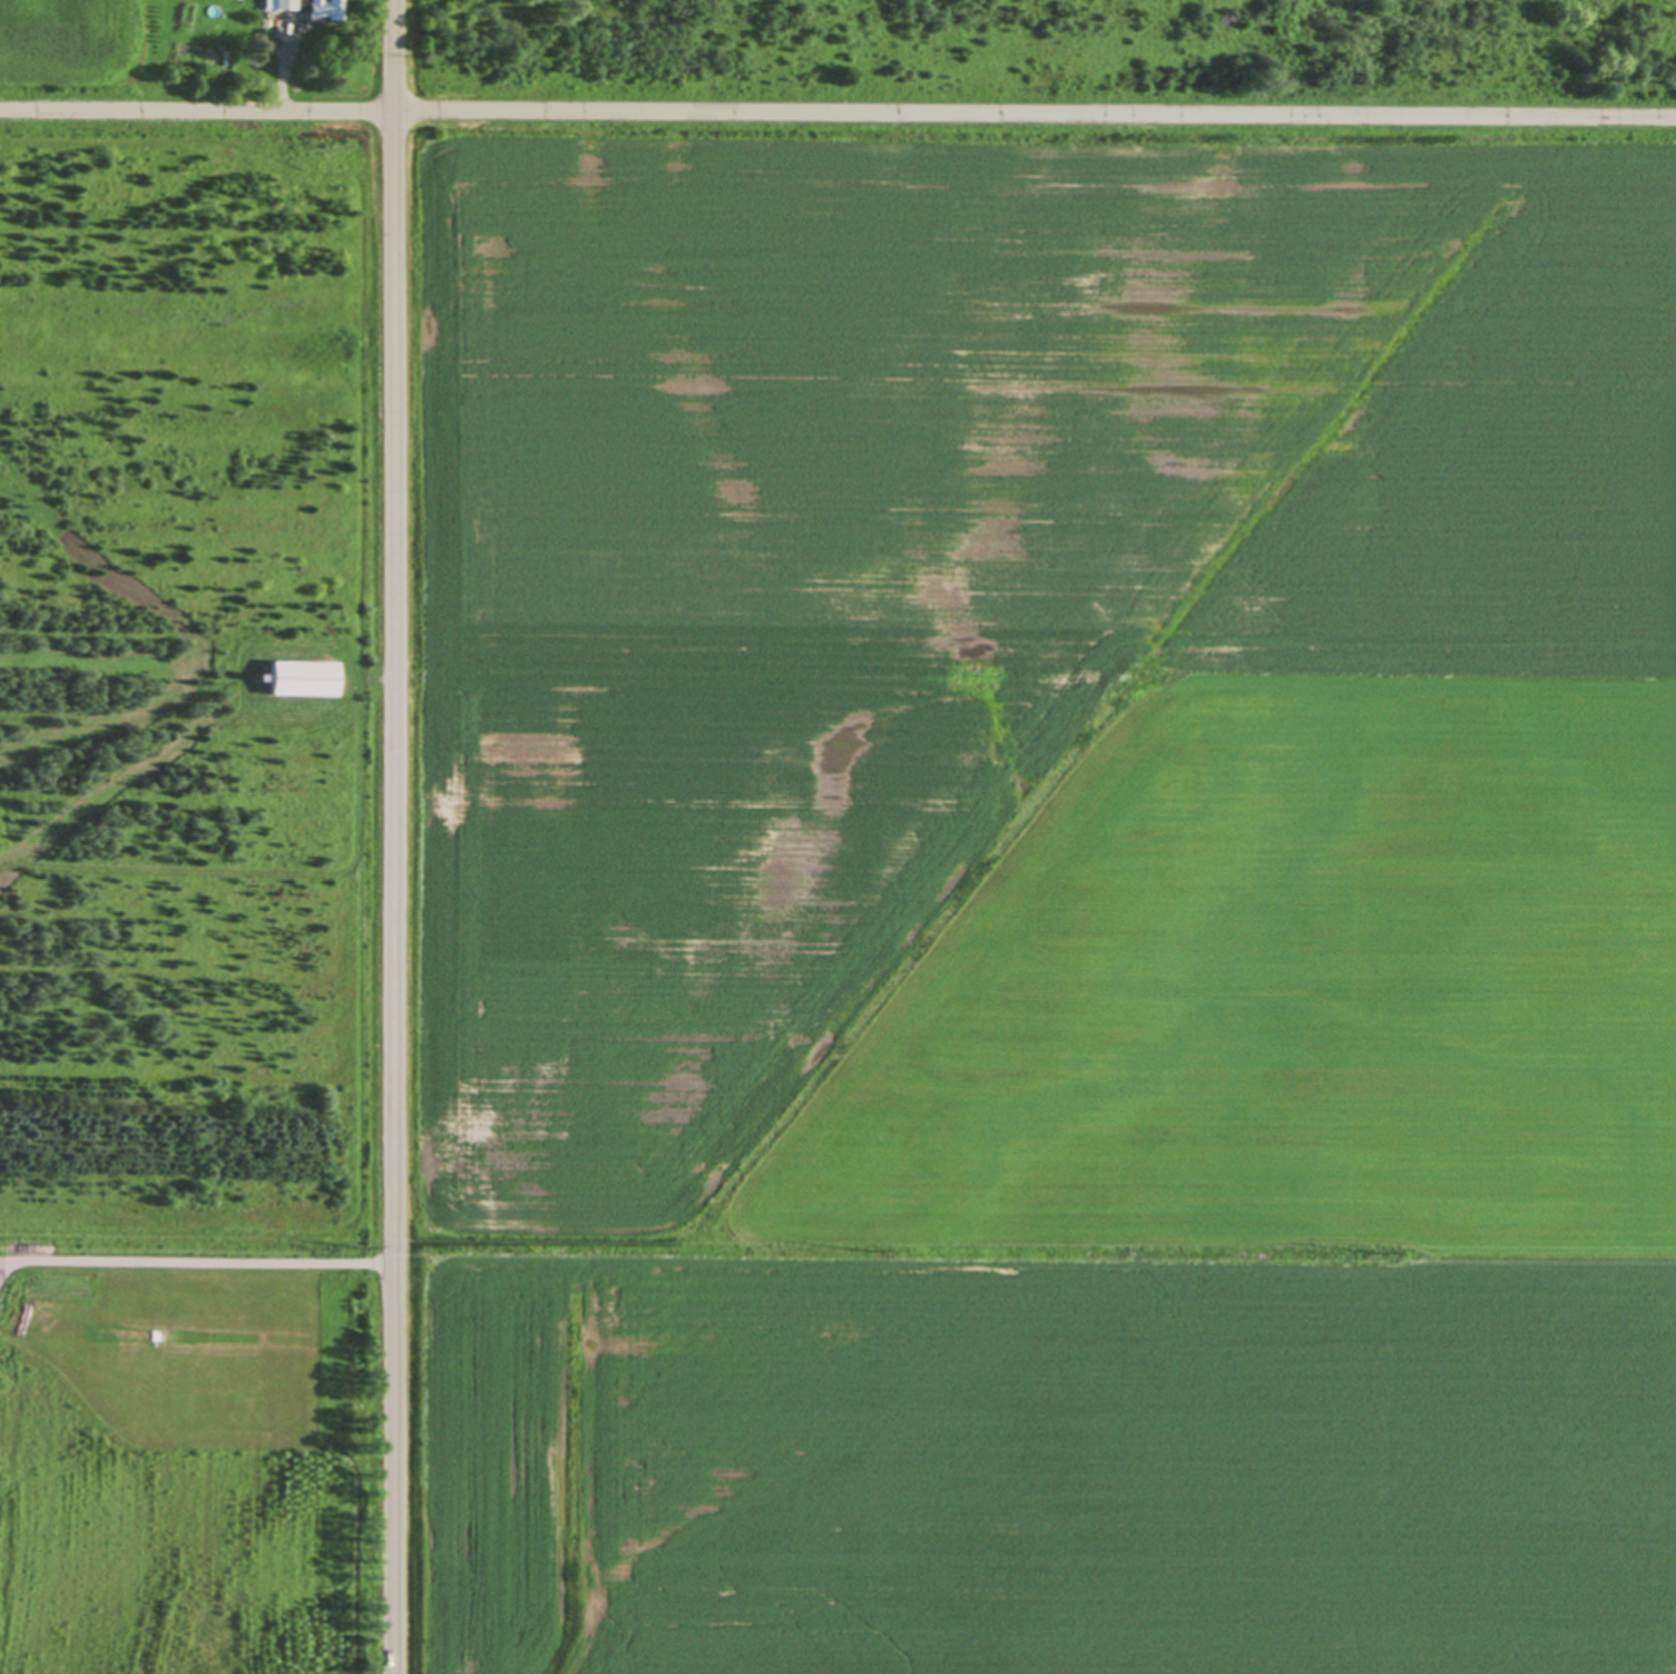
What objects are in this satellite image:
building: (280, 6)
building: (322, 9)
building: (225, 53)
road: (837, 112)
building: (300, 676)
road: (392, 836)
power tower: (365, 1243)
power tower: (1380, 1250)
power tower: (871, 1252)
road: (0, 1260)
road: (0, 1261)
road: (197, 1261)

